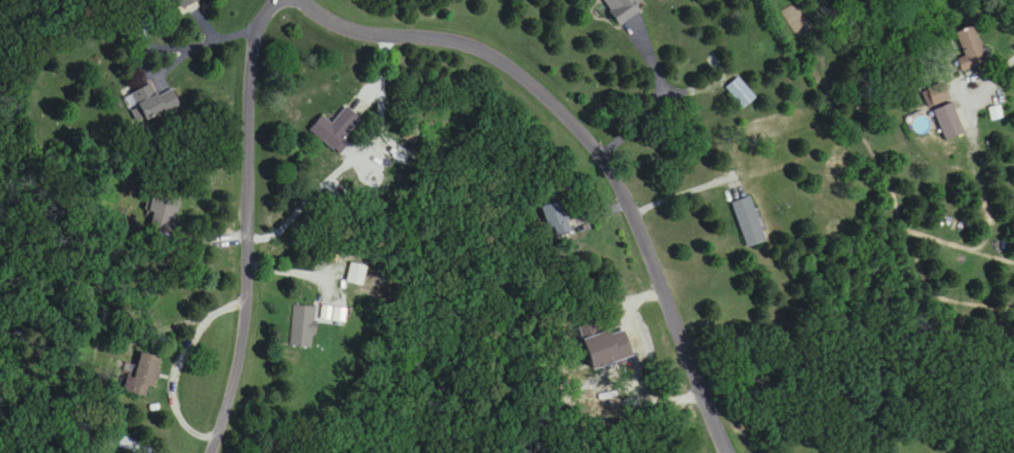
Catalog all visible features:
building: (188, 4)
building: (622, 9)
road: (206, 40)
building: (971, 48)
road: (1002, 72)
building: (740, 92)
road: (662, 98)
building: (150, 101)
building: (949, 121)
building: (337, 129)
road: (590, 146)
road: (687, 188)
building: (165, 215)
building: (557, 218)
road: (247, 221)
building: (749, 222)
road: (953, 240)
road: (997, 250)
building: (303, 326)
road: (178, 365)
building: (142, 376)

